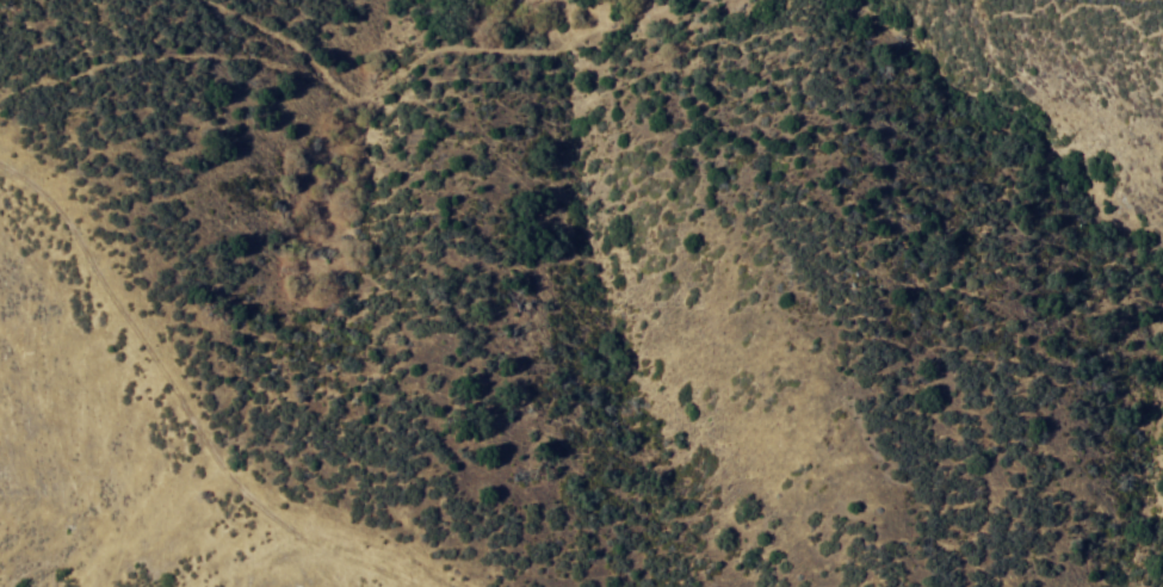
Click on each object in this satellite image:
road: (155, 427)

